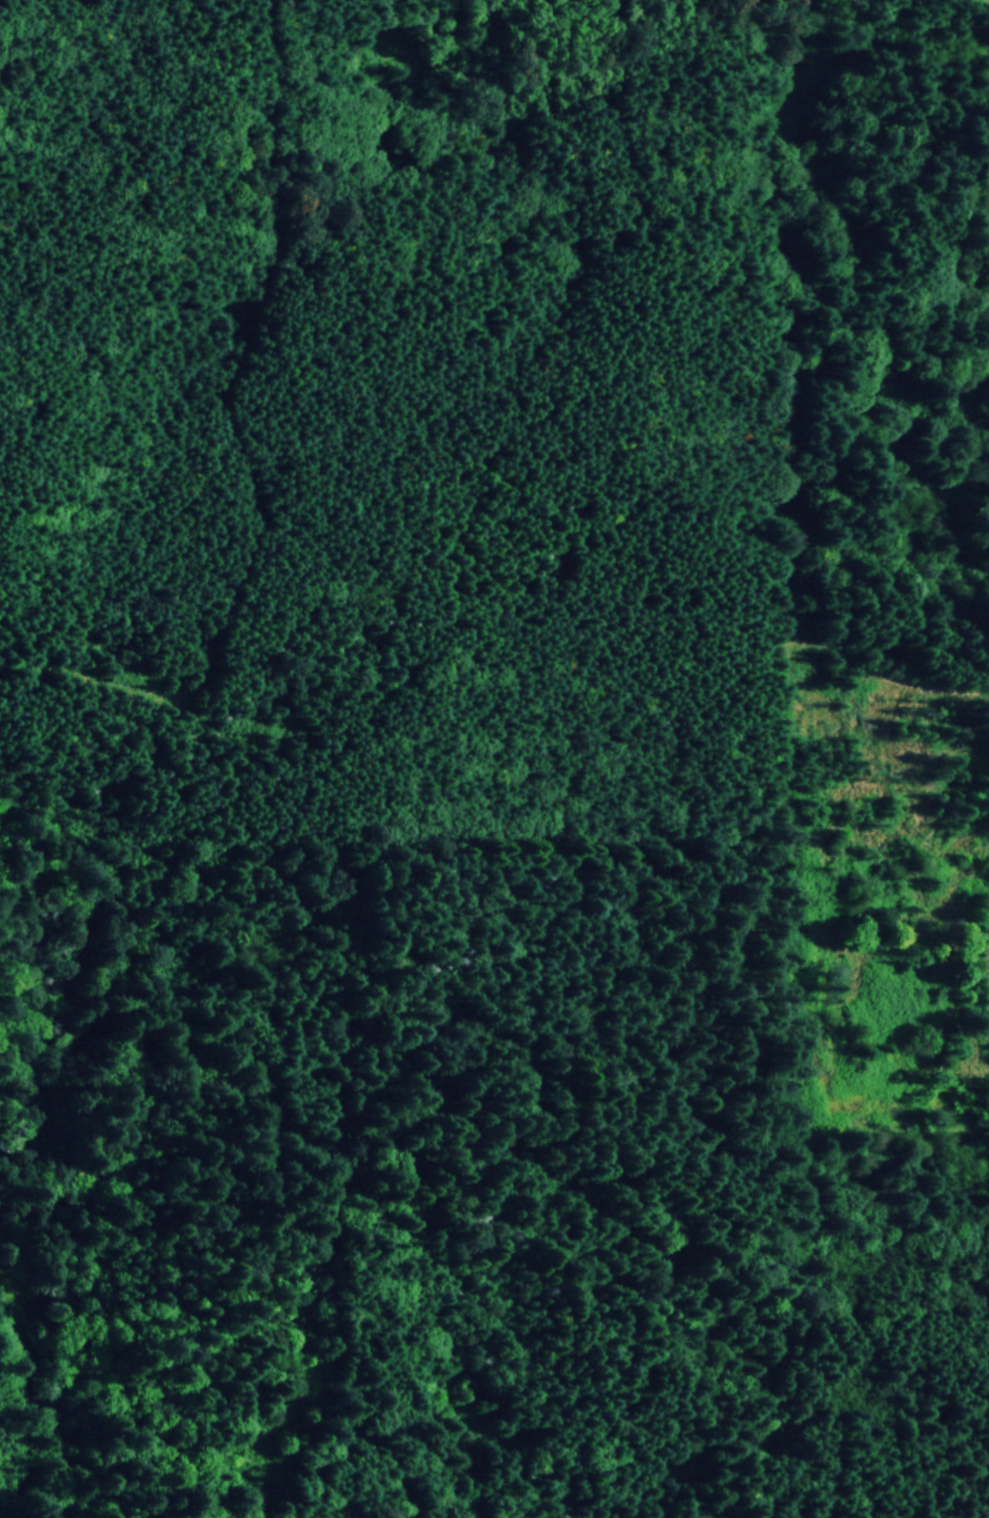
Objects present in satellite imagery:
road: (413, 1004)

